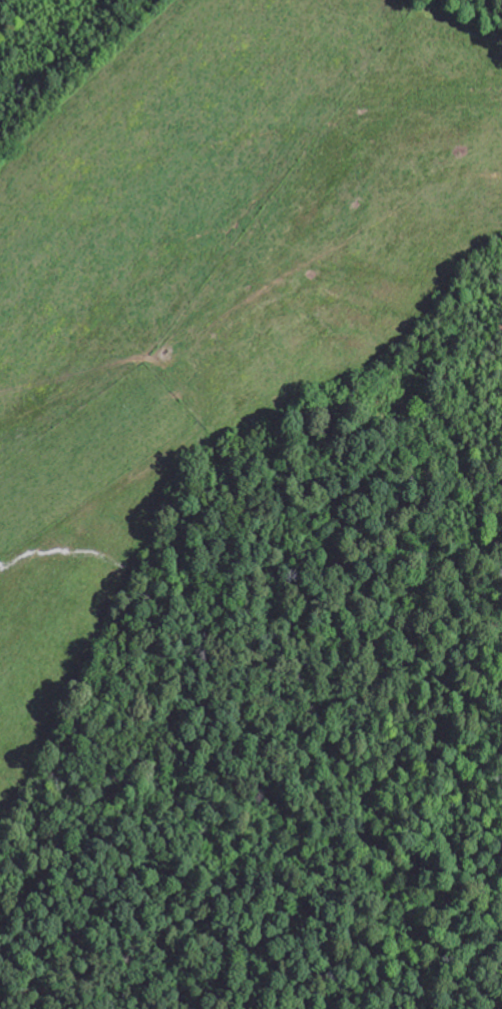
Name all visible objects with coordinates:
airport runway: (85, 464)

